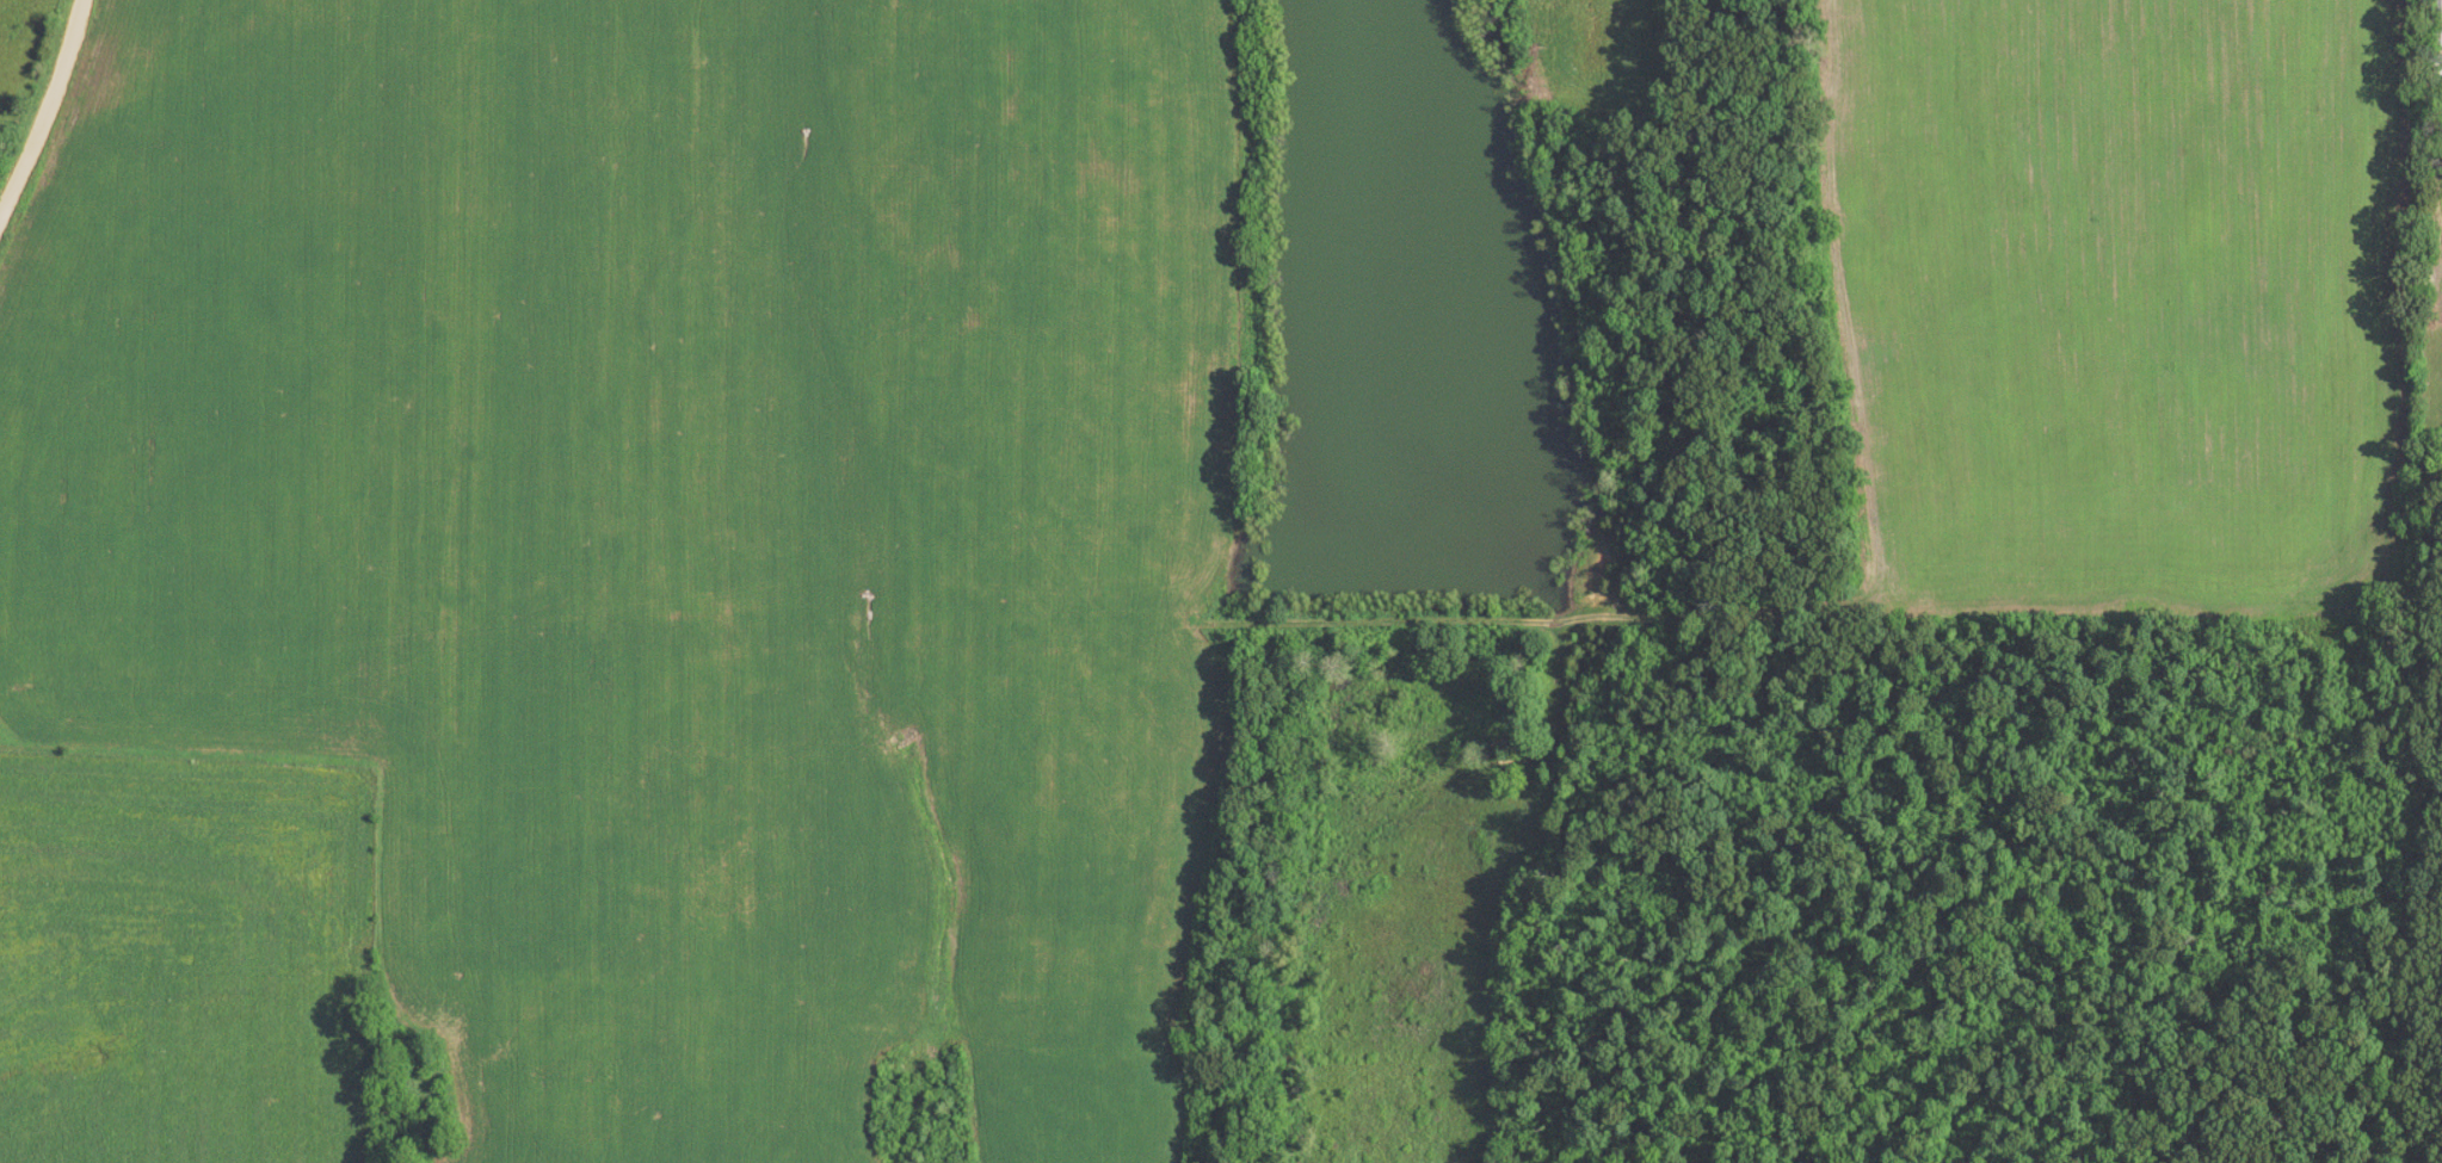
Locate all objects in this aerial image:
building: (2437, 24)
road: (42, 99)

